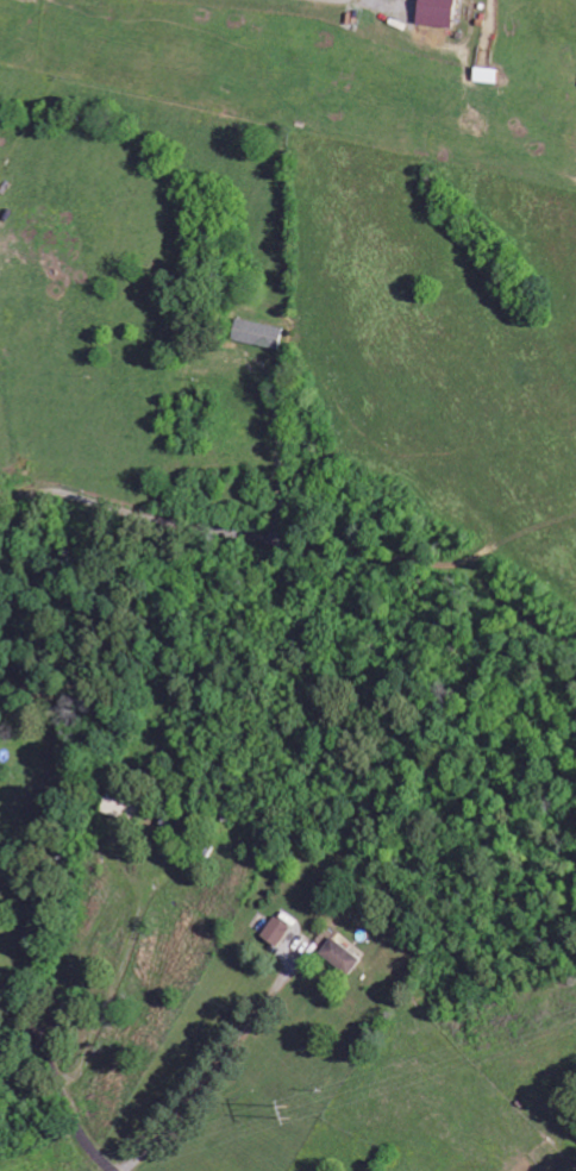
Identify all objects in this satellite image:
building: (125, 808)
building: (225, 810)
building: (276, 932)
building: (344, 958)
road: (57, 1088)

